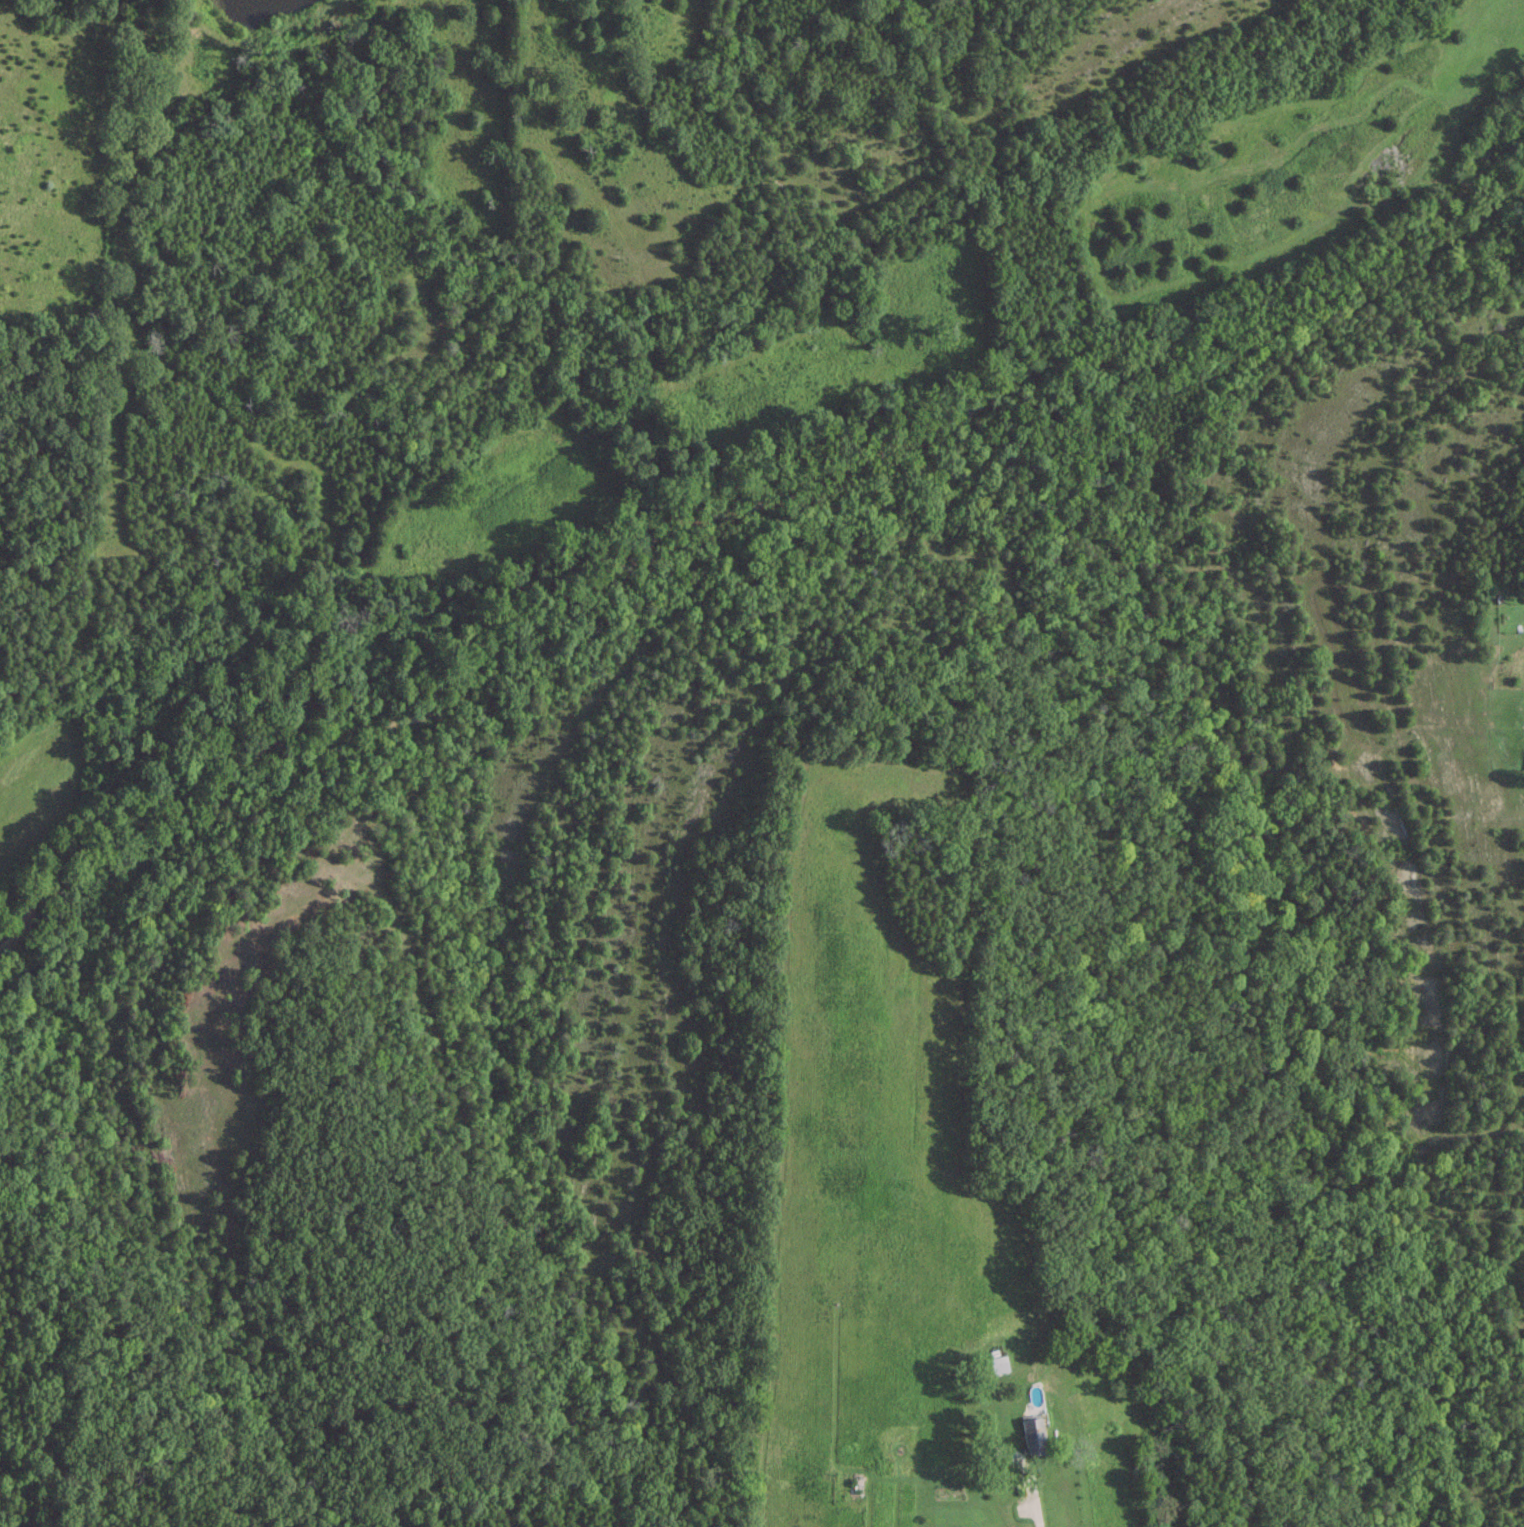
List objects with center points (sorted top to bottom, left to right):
building: (998, 1364)
building: (1031, 1435)
road: (1037, 1513)

